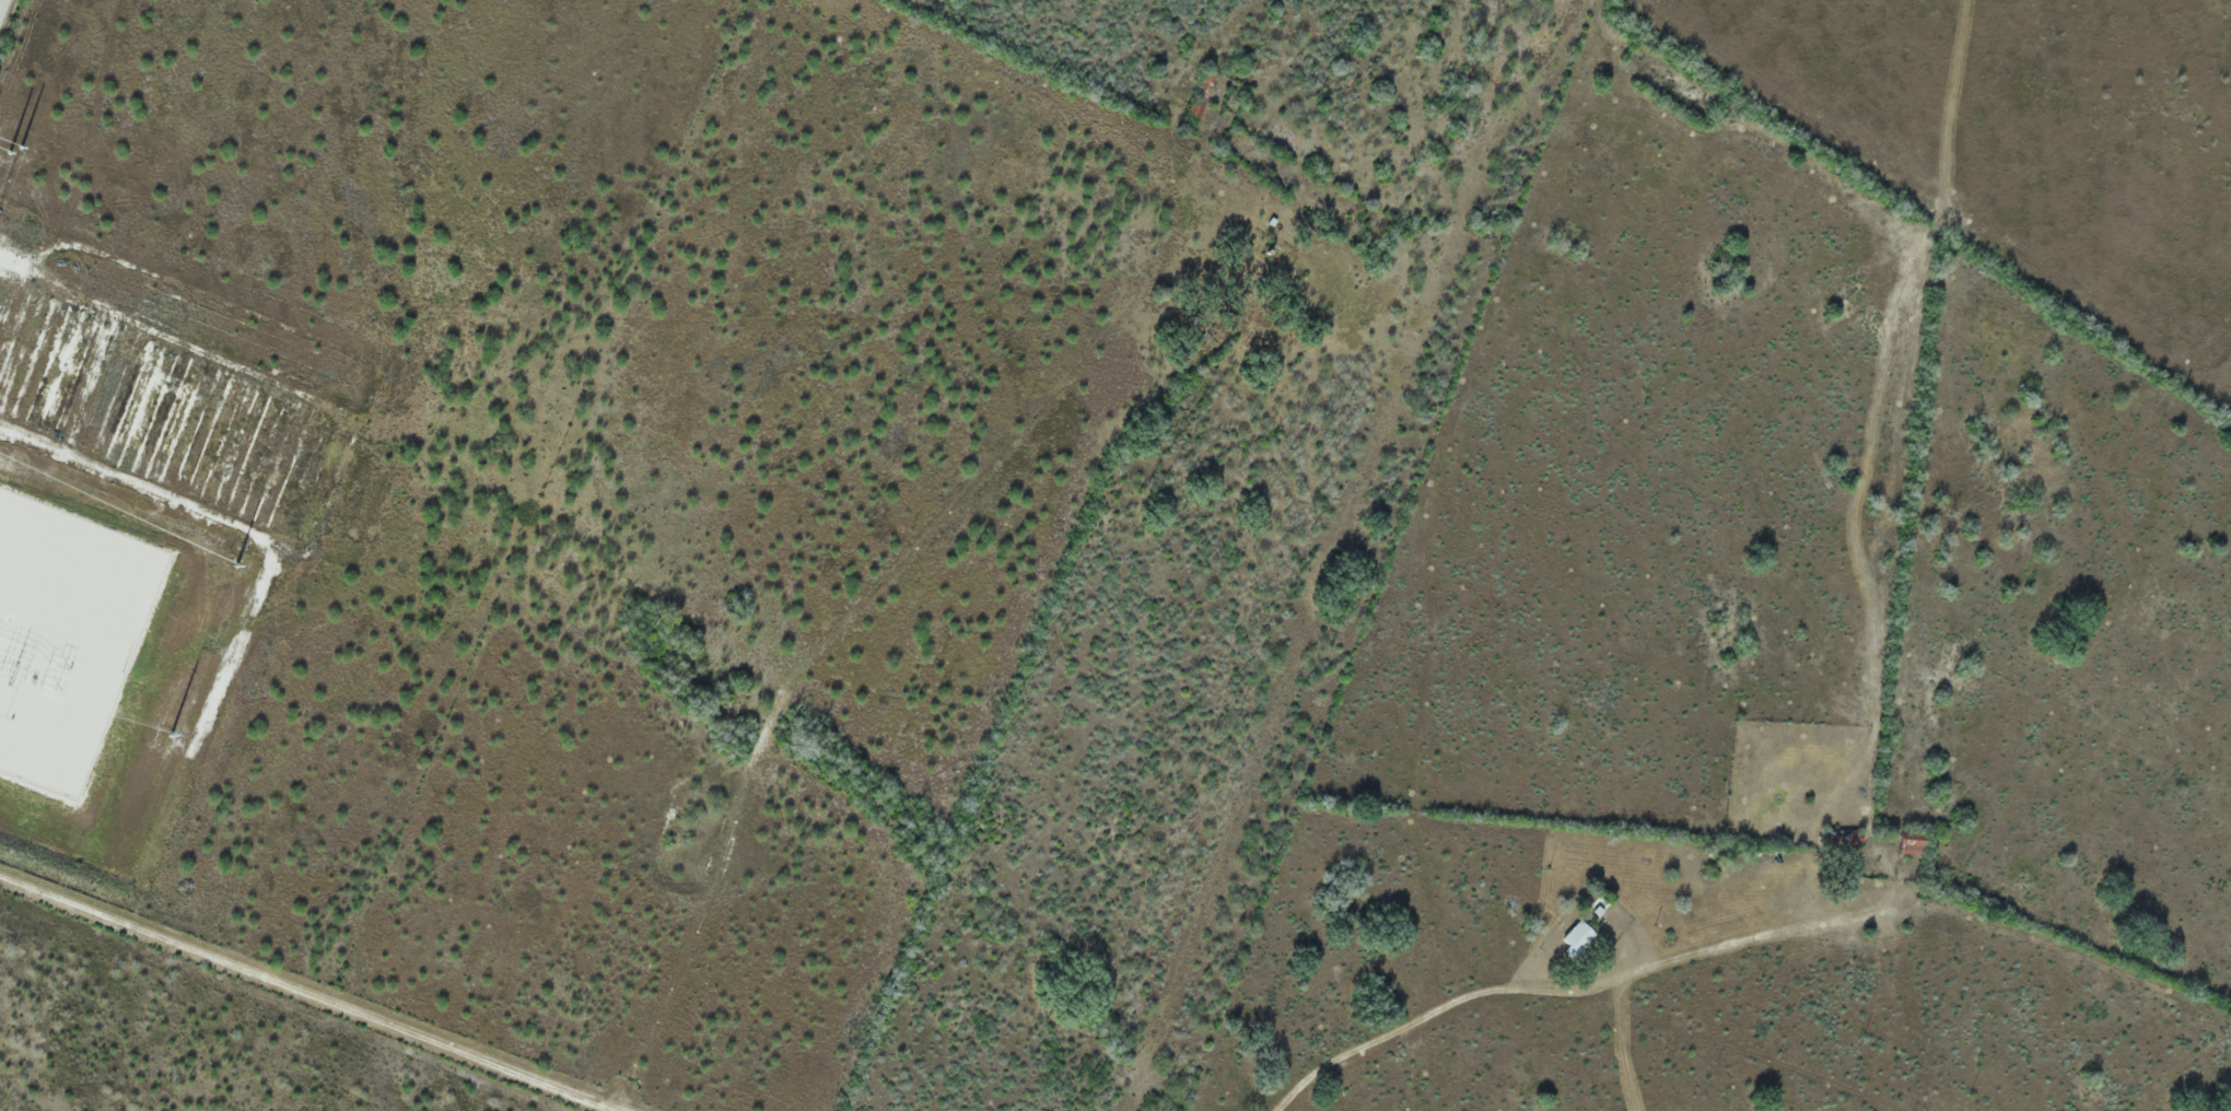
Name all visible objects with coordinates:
road: (1, 4)
building: (1201, 98)
building: (1844, 835)
building: (1912, 843)
building: (1578, 937)
road: (308, 993)

